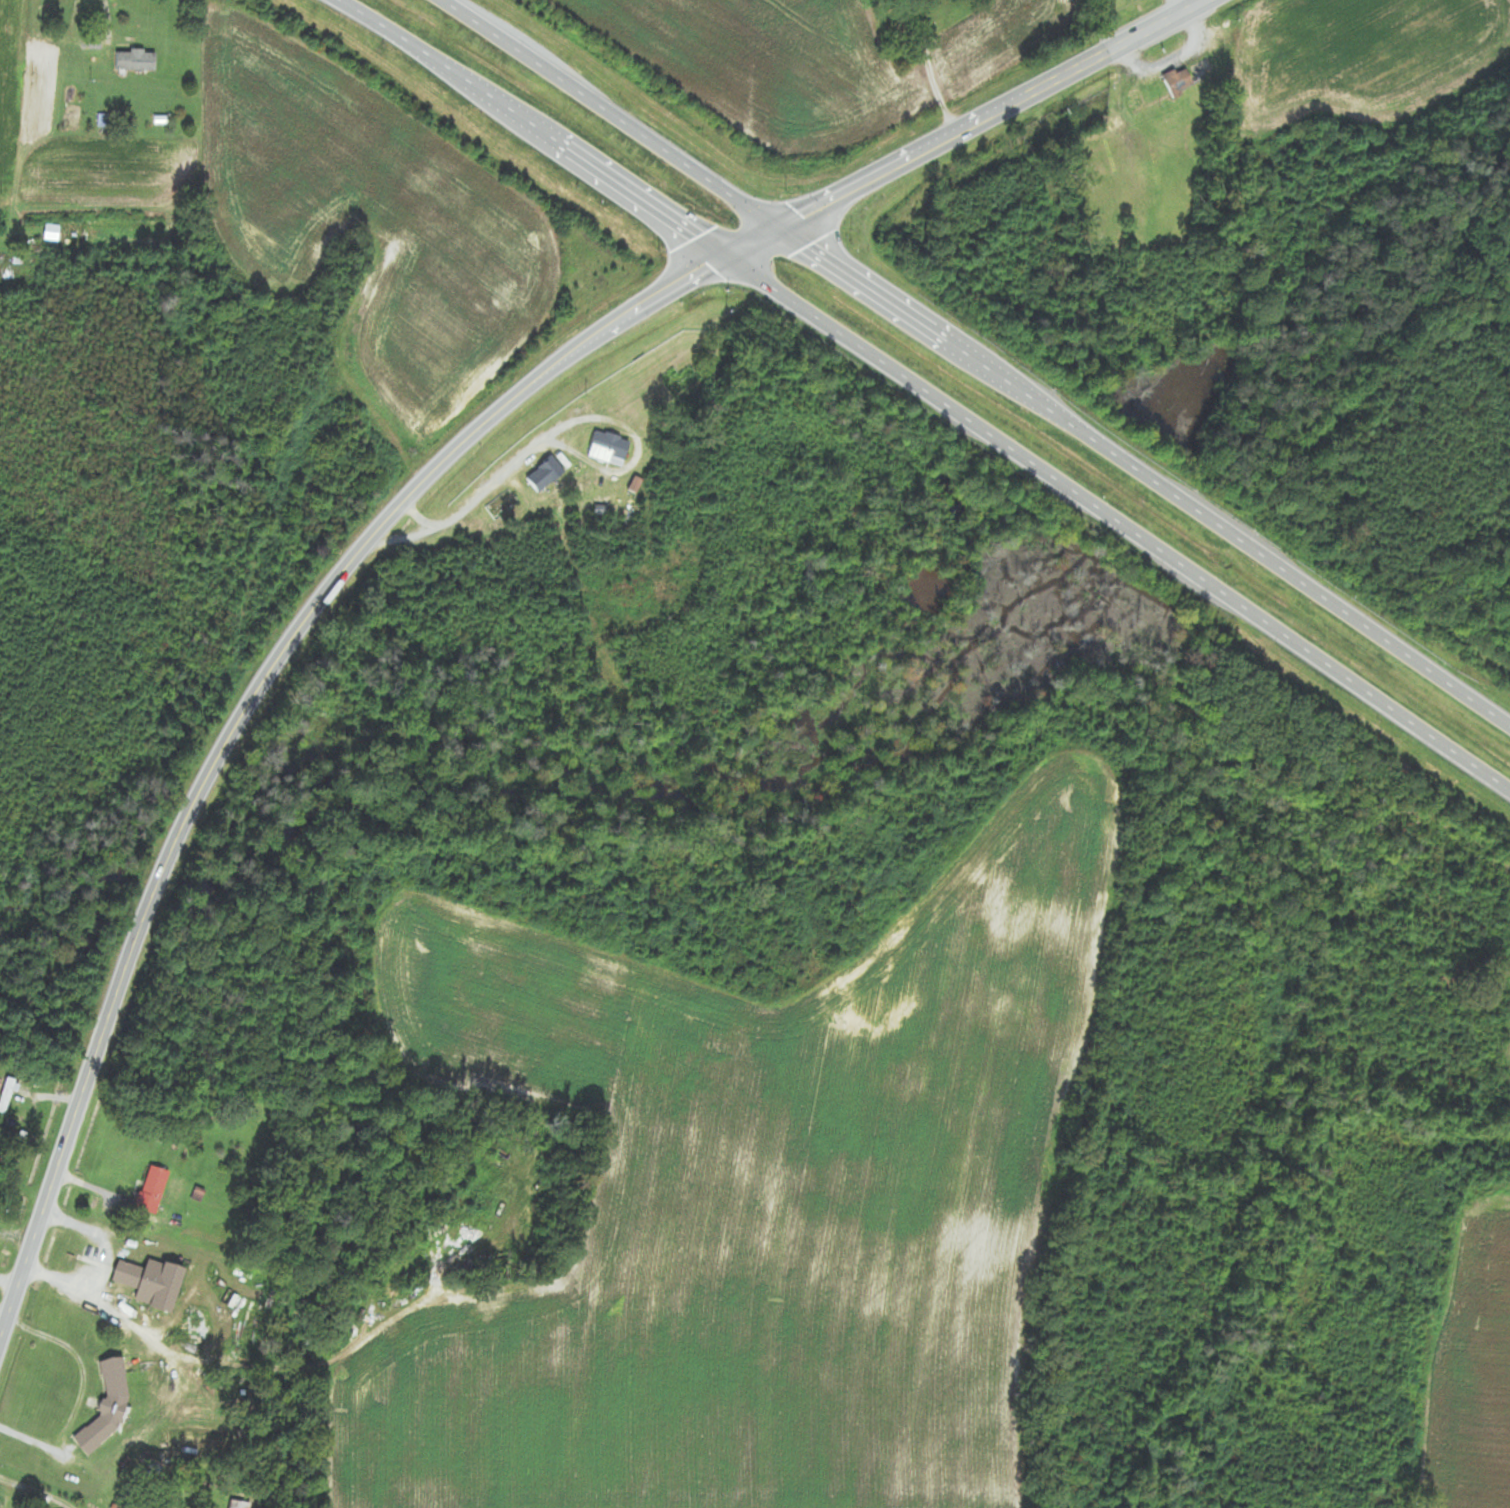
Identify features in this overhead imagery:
road: (1183, 6)
road: (107, 20)
building: (135, 61)
building: (1181, 85)
road: (602, 111)
road: (989, 113)
road: (529, 123)
road: (744, 242)
building: (1117, 323)
building: (680, 379)
building: (609, 448)
road: (1141, 474)
building: (545, 475)
road: (1116, 520)
road: (242, 715)
building: (7, 1095)
building: (155, 1185)
building: (152, 1283)
building: (239, 1505)

